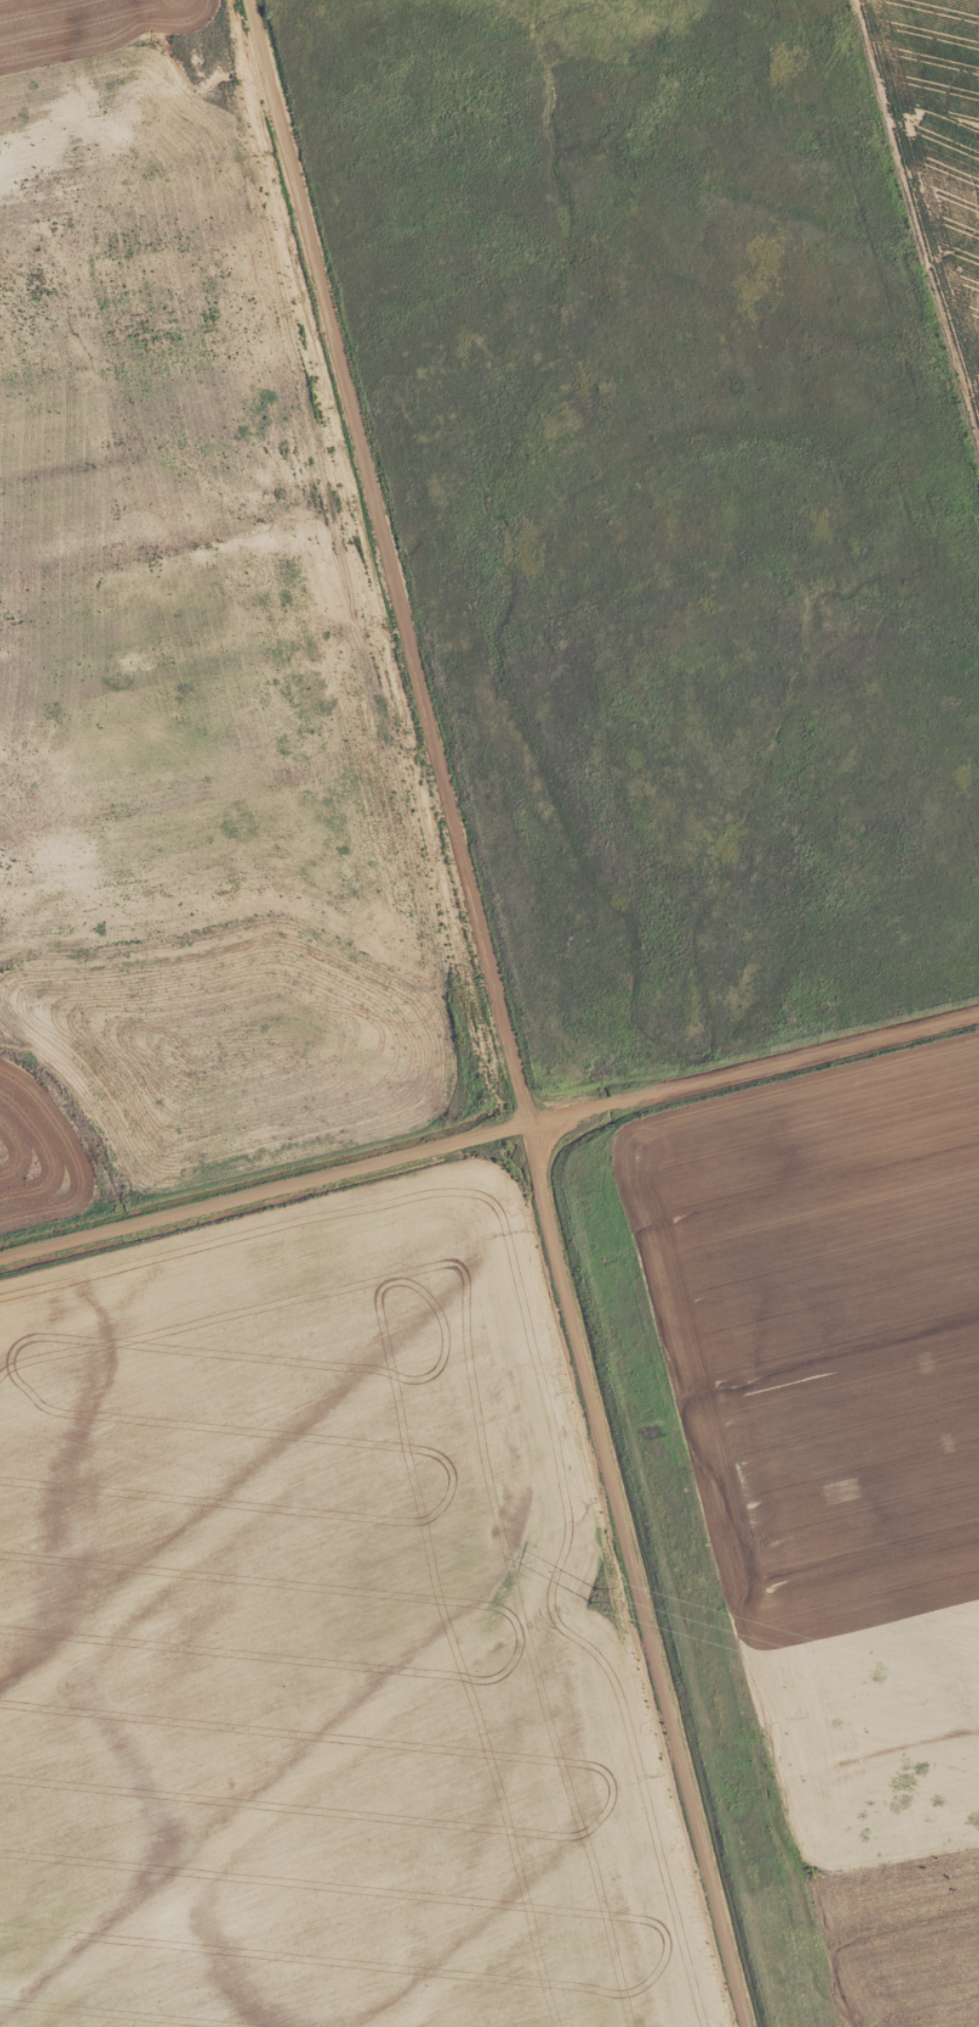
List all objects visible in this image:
road: (497, 1013)
road: (489, 1131)
power tower: (588, 1595)

